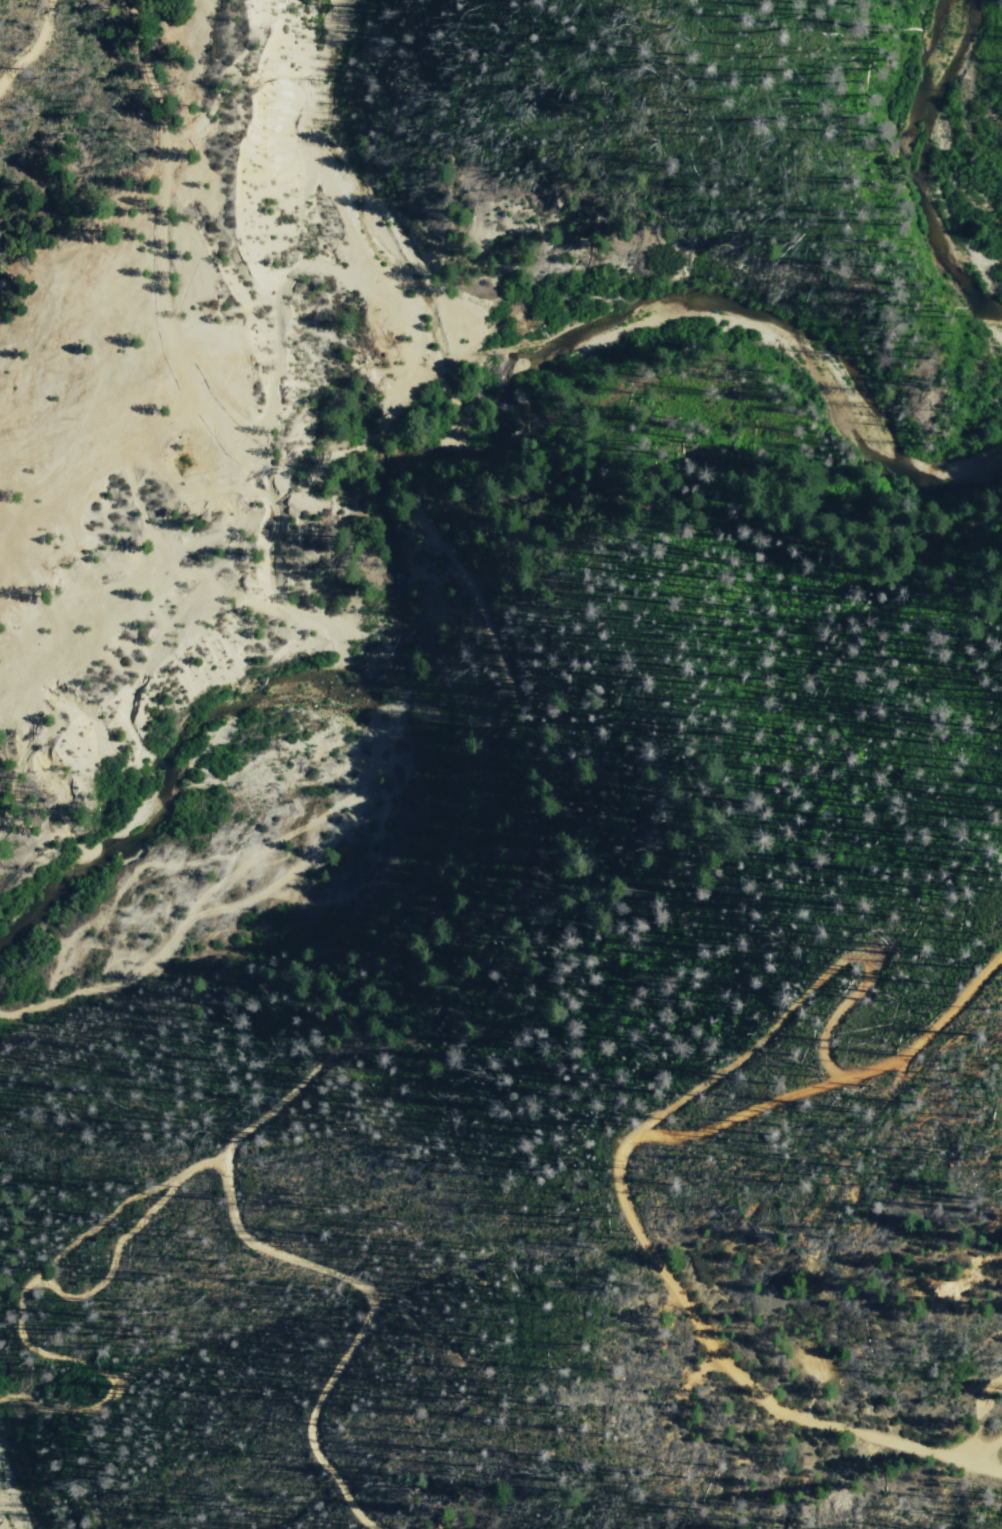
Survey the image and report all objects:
road: (31, 45)
road: (162, 294)
road: (339, 1049)
road: (665, 1109)

